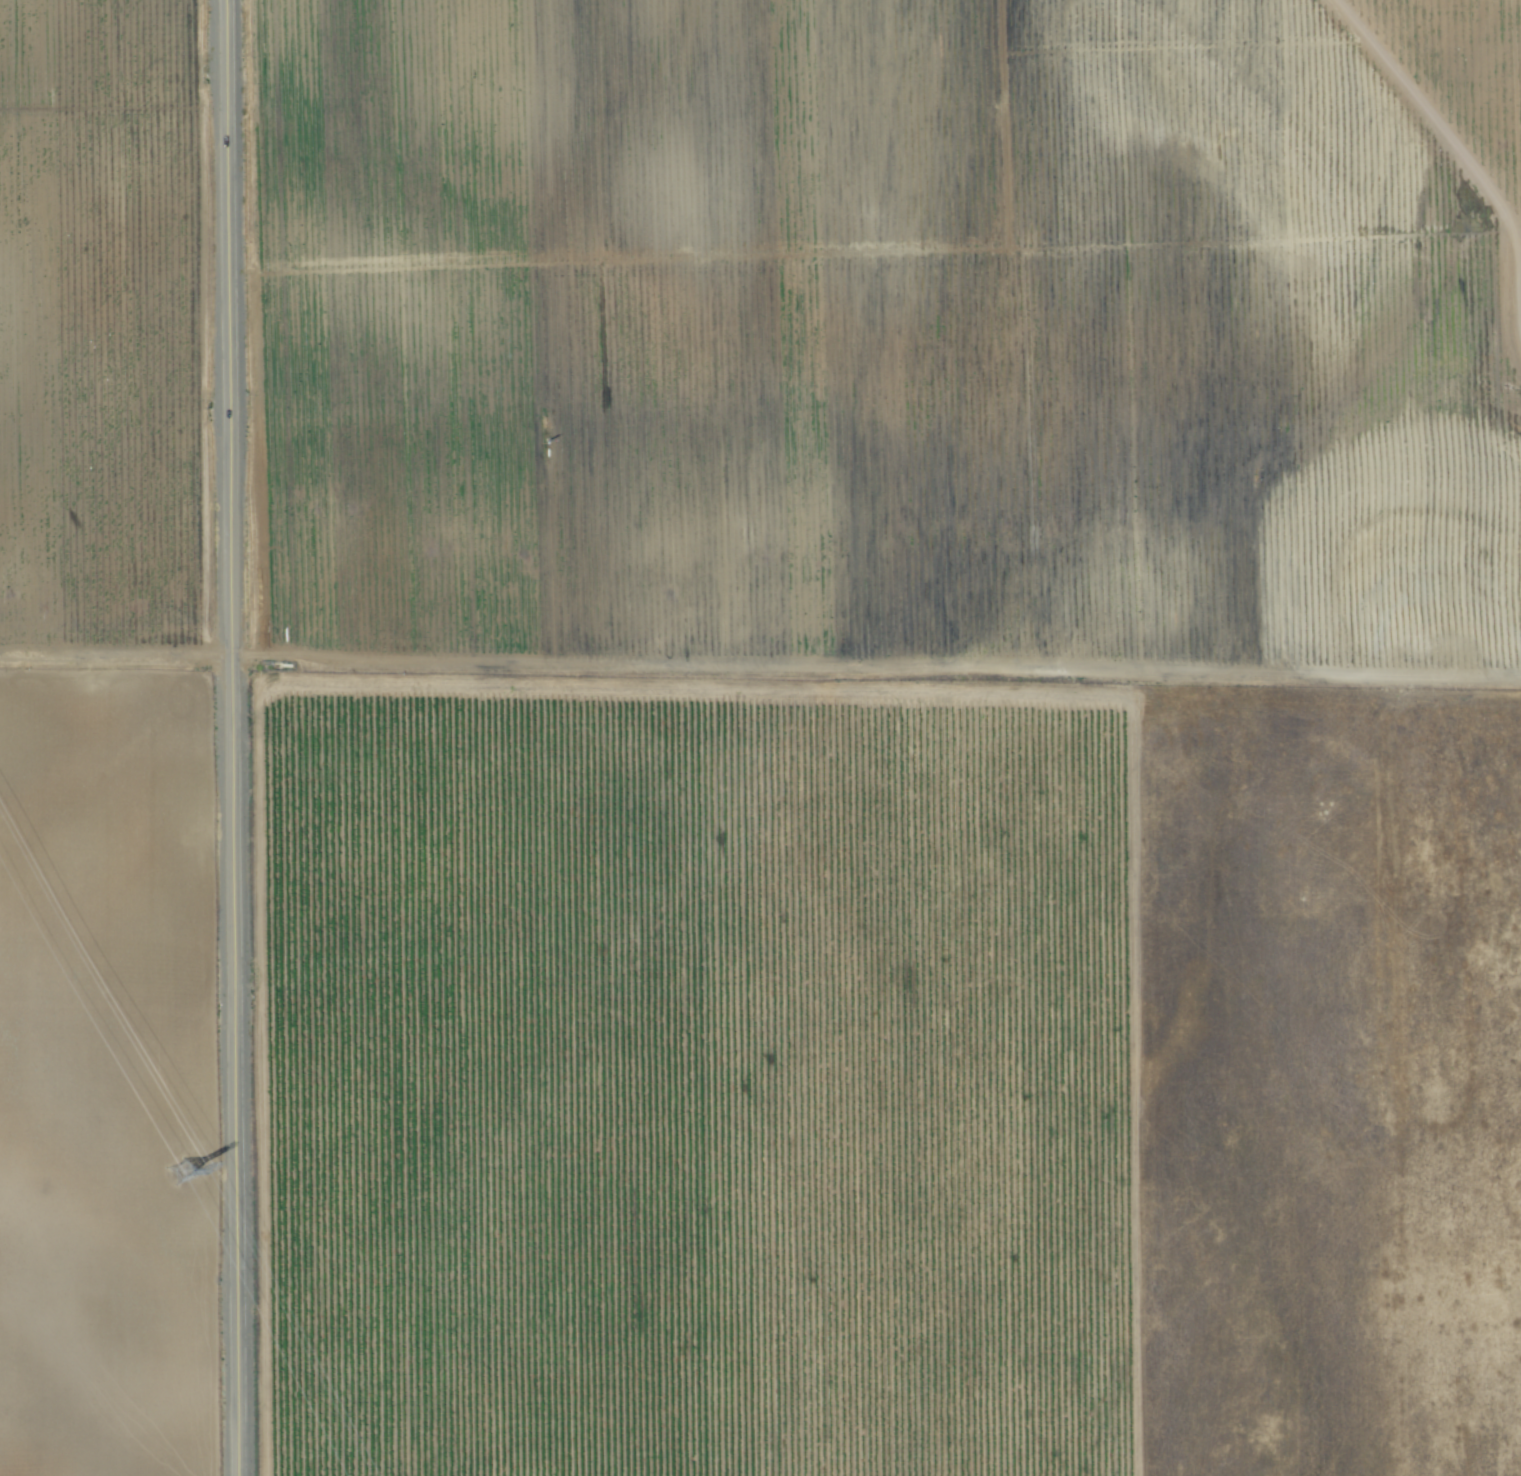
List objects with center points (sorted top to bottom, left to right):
road: (235, 738)
power tower: (190, 1148)

